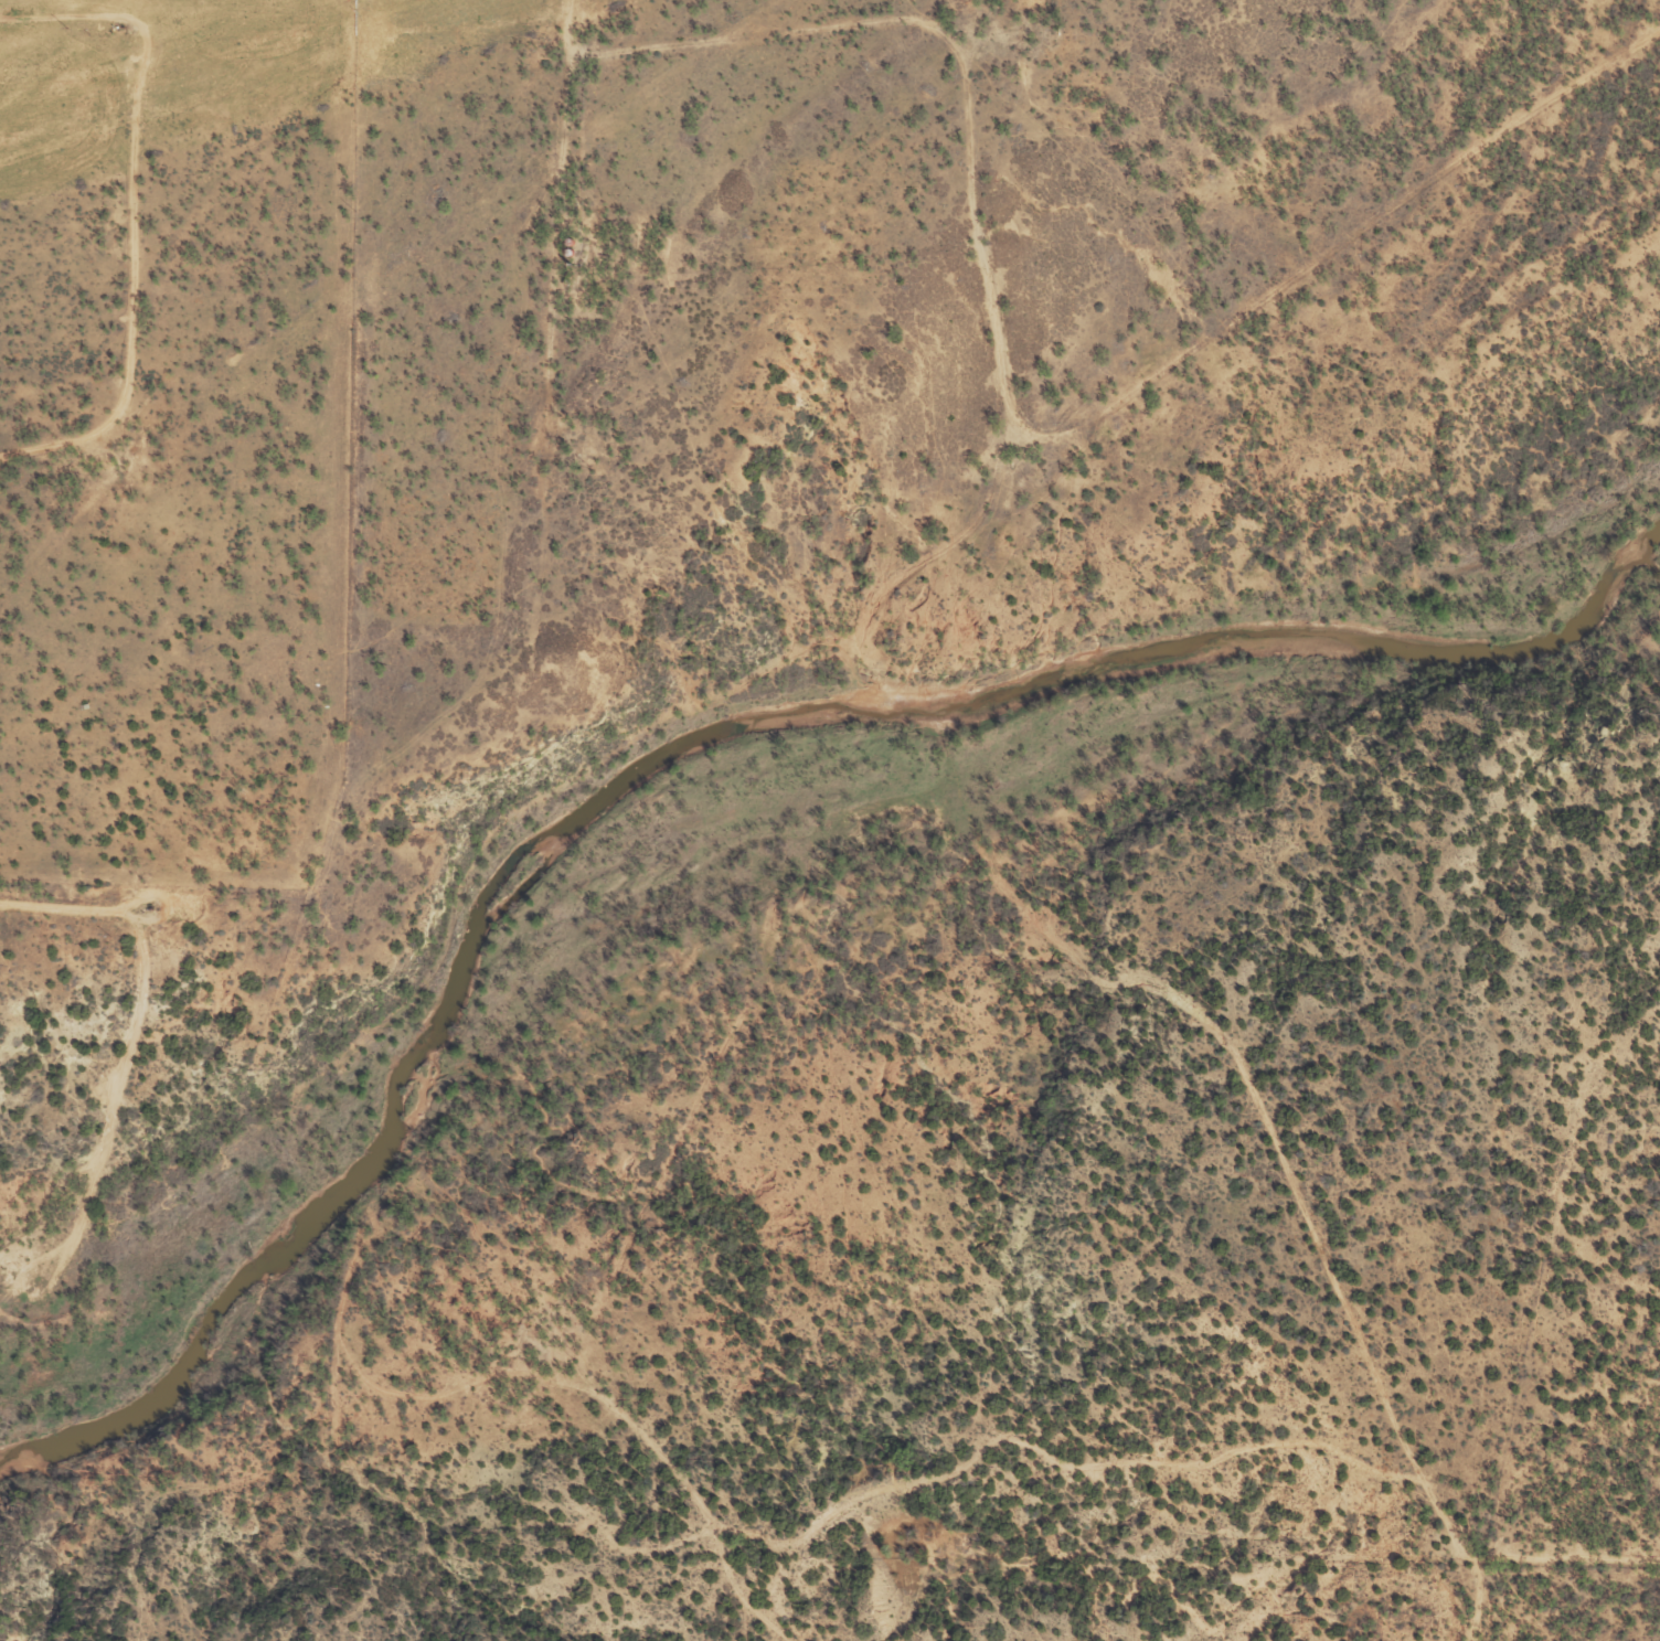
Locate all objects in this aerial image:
road: (168, 260)
river: (687, 750)
road: (1564, 1586)

